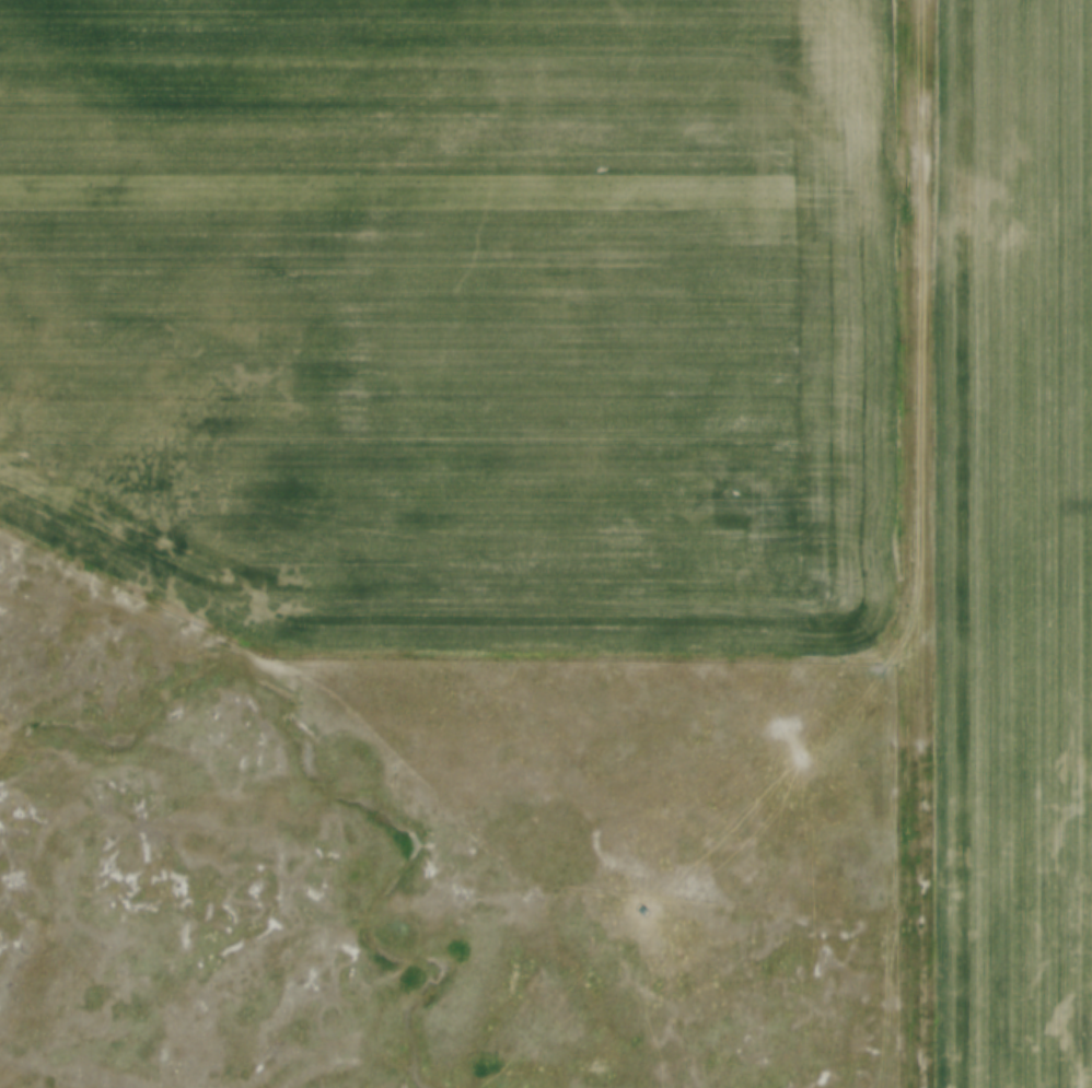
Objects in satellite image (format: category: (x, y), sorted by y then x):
road: (922, 543)

